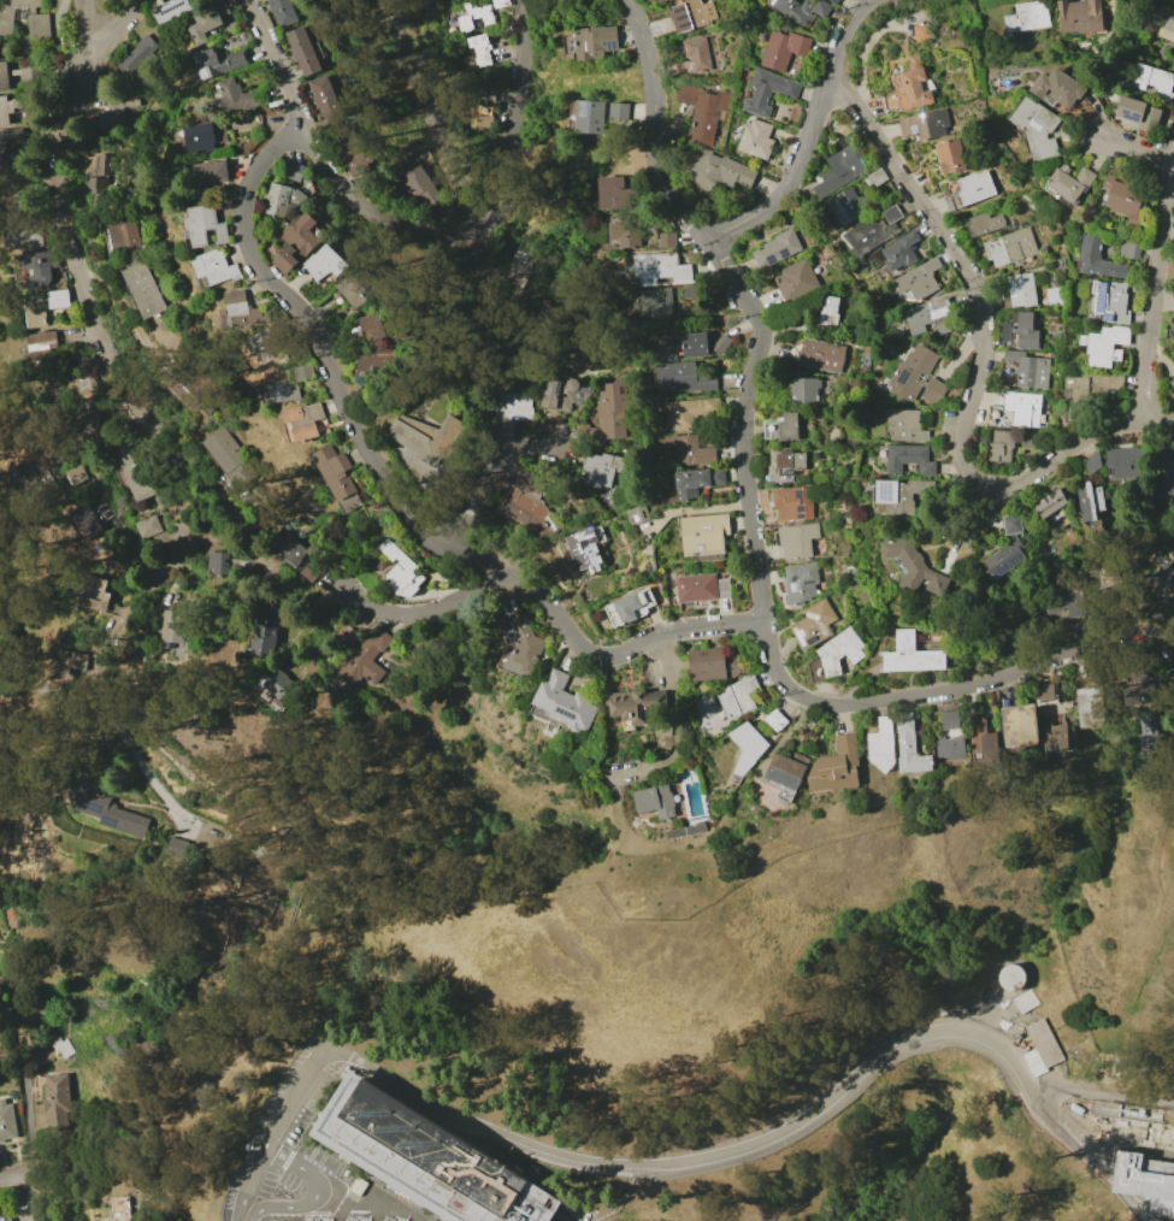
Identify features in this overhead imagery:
building: (562, 0)
building: (663, 0)
building: (833, 1)
building: (502, 4)
building: (802, 8)
building: (173, 10)
building: (287, 11)
building: (476, 16)
building: (691, 16)
building: (1161, 16)
building: (1028, 17)
building: (1080, 17)
building: (26, 18)
road: (111, 19)
building: (208, 24)
building: (924, 33)
building: (595, 41)
building: (482, 49)
building: (307, 51)
building: (137, 52)
building: (786, 52)
building: (698, 54)
building: (222, 61)
building: (30, 76)
building: (5, 77)
building: (1154, 79)
building: (913, 84)
building: (1057, 88)
building: (768, 90)
building: (240, 98)
building: (329, 98)
building: (130, 101)
building: (486, 107)
building: (10, 108)
building: (704, 111)
road: (425, 112)
building: (1139, 113)
building: (603, 114)
road: (655, 125)
building: (927, 125)
building: (1037, 126)
road: (810, 136)
building: (205, 137)
building: (756, 138)
building: (13, 141)
road: (1134, 146)
building: (353, 154)
building: (952, 157)
building: (104, 164)
building: (842, 164)
building: (299, 172)
building: (721, 172)
building: (214, 176)
building: (878, 177)
building: (1069, 184)
building: (419, 188)
building: (96, 189)
building: (971, 190)
building: (617, 194)
building: (1125, 197)
building: (288, 200)
building: (843, 210)
building: (984, 224)
building: (212, 226)
road: (418, 229)
building: (874, 230)
building: (620, 235)
building: (28, 238)
building: (126, 240)
building: (666, 240)
building: (301, 242)
building: (1131, 242)
building: (1011, 247)
building: (777, 249)
building: (901, 252)
building: (1099, 260)
building: (329, 263)
building: (524, 263)
building: (37, 266)
building: (660, 267)
building: (220, 269)
building: (919, 278)
building: (796, 282)
building: (361, 285)
building: (147, 290)
building: (695, 291)
building: (1019, 291)
road: (1154, 295)
building: (1050, 297)
building: (1110, 301)
building: (657, 302)
building: (47, 306)
building: (247, 309)
building: (830, 311)
building: (931, 315)
road: (94, 317)
building: (1173, 326)
building: (1021, 332)
building: (46, 344)
building: (721, 344)
building: (1173, 344)
building: (1104, 346)
building: (267, 347)
building: (684, 347)
building: (380, 350)
building: (821, 355)
building: (1030, 370)
road: (978, 371)
building: (918, 378)
building: (684, 379)
building: (1173, 381)
building: (75, 383)
building: (189, 383)
building: (289, 383)
building: (54, 389)
building: (804, 390)
building: (1085, 394)
building: (564, 395)
building: (1023, 408)
building: (512, 411)
building: (612, 411)
building: (318, 412)
building: (690, 412)
building: (296, 414)
building: (903, 425)
building: (783, 427)
building: (430, 436)
building: (1027, 441)
building: (1002, 446)
building: (690, 449)
building: (230, 459)
building: (907, 459)
building: (1093, 464)
building: (1126, 464)
building: (787, 466)
building: (602, 468)
building: (336, 472)
building: (1164, 473)
building: (75, 476)
building: (132, 476)
road: (482, 477)
building: (30, 478)
building: (697, 482)
building: (903, 495)
building: (527, 497)
road: (394, 503)
building: (794, 503)
building: (1050, 503)
building: (1091, 505)
building: (638, 513)
road: (980, 513)
building: (92, 519)
building: (148, 527)
building: (704, 535)
road: (131, 537)
building: (797, 539)
building: (588, 549)
building: (1007, 549)
building: (294, 558)
building: (219, 560)
building: (914, 567)
building: (402, 571)
building: (312, 572)
building: (1103, 577)
building: (1162, 582)
building: (801, 583)
building: (702, 588)
building: (98, 594)
building: (1063, 600)
building: (630, 607)
road: (418, 612)
building: (814, 624)
building: (176, 626)
building: (1080, 627)
building: (347, 636)
building: (262, 638)
building: (519, 645)
building: (836, 654)
building: (910, 654)
building: (367, 660)
road: (773, 663)
building: (714, 665)
building: (64, 673)
building: (282, 685)
building: (1141, 688)
building: (1045, 692)
building: (738, 696)
building: (1089, 696)
building: (564, 702)
building: (635, 704)
building: (777, 719)
building: (1020, 725)
road: (677, 726)
building: (1148, 729)
building: (1055, 737)
building: (984, 739)
road: (126, 741)
building: (950, 741)
building: (748, 745)
building: (881, 745)
building: (909, 745)
building: (837, 766)
building: (784, 772)
building: (655, 801)
building: (111, 812)
road: (1156, 857)
building: (1010, 977)
storage tank: (1010, 977)
building: (1025, 1002)
building: (63, 1048)
building: (1042, 1049)
road: (1102, 1095)
building: (57, 1098)
building: (1126, 1111)
building: (7, 1121)
building: (1167, 1139)
building: (426, 1158)
road: (666, 1163)
road: (632, 1170)
building: (1145, 1180)
road: (16, 1182)
road: (314, 1196)
road: (31, 1201)
road: (1135, 1208)
building: (122, 1209)
building: (5, 1217)
road: (242, 1219)
road: (590, 1220)

